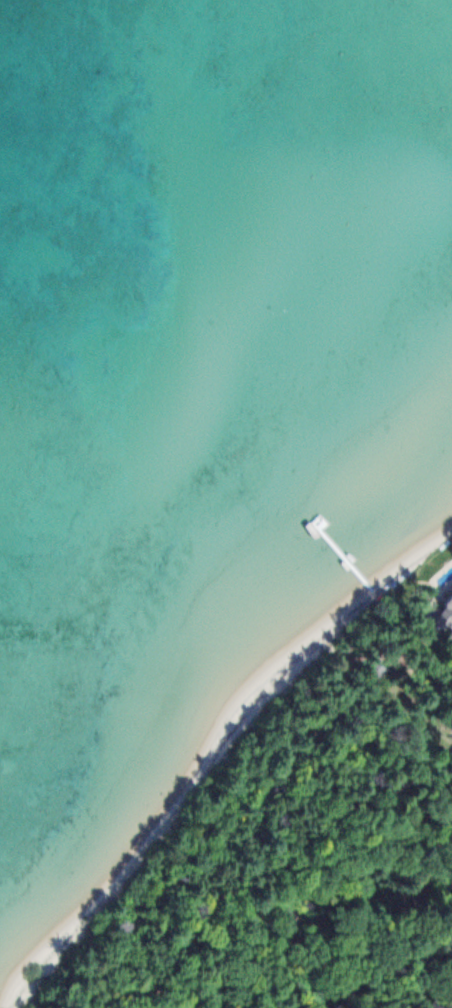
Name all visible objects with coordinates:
building: (444, 619)

